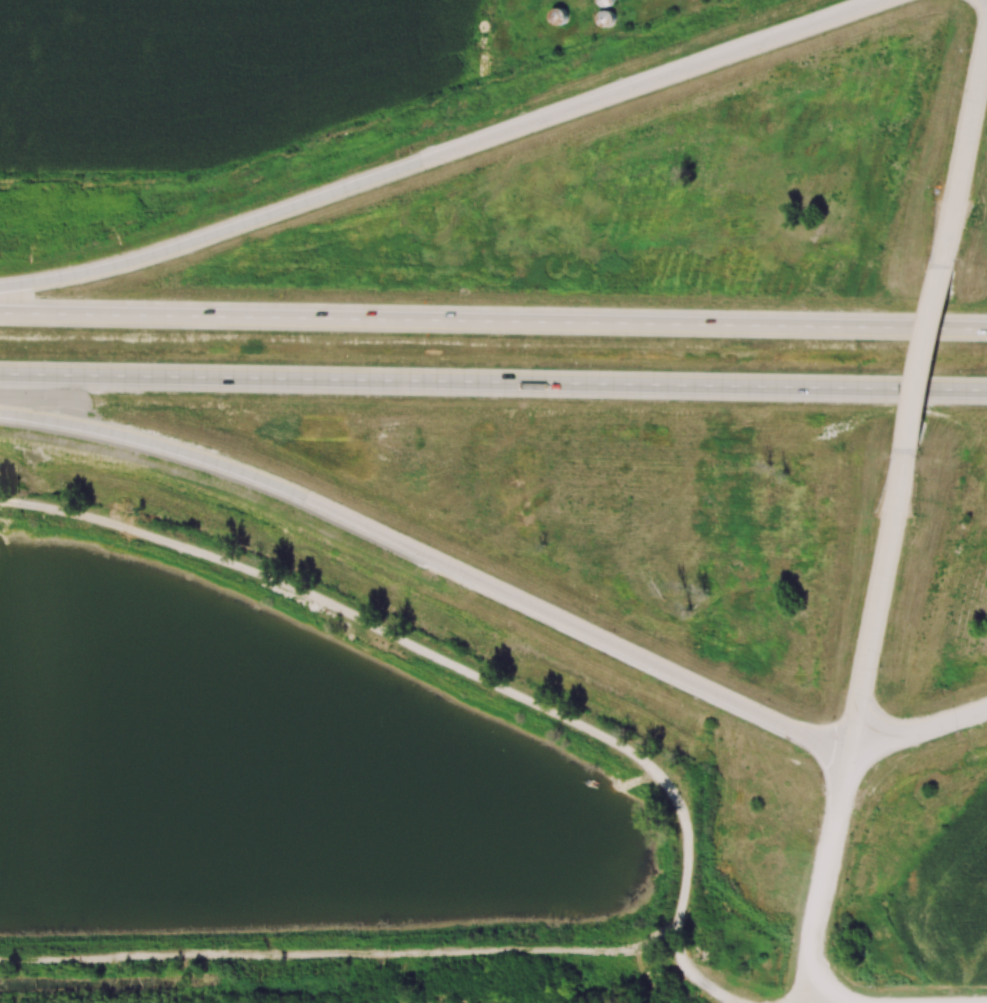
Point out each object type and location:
street lamp: (966, 50)
road: (446, 154)
road: (968, 157)
road: (493, 320)
road: (930, 358)
road: (493, 382)
road: (432, 556)
road: (879, 597)
road: (463, 668)
street lamp: (882, 668)
road: (918, 728)
street lamp: (958, 734)
street lamp: (816, 828)
road: (820, 873)

